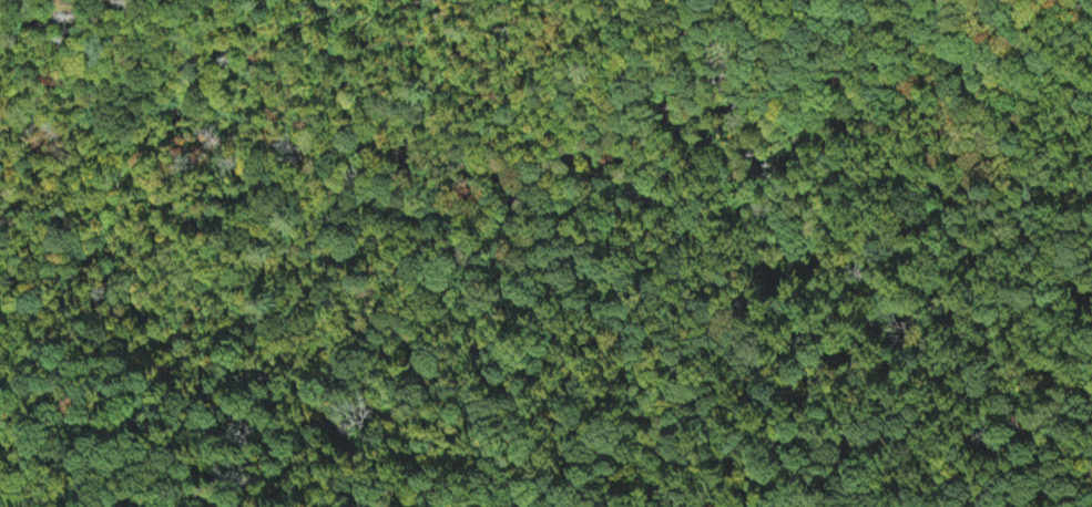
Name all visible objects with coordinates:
road: (939, 445)

